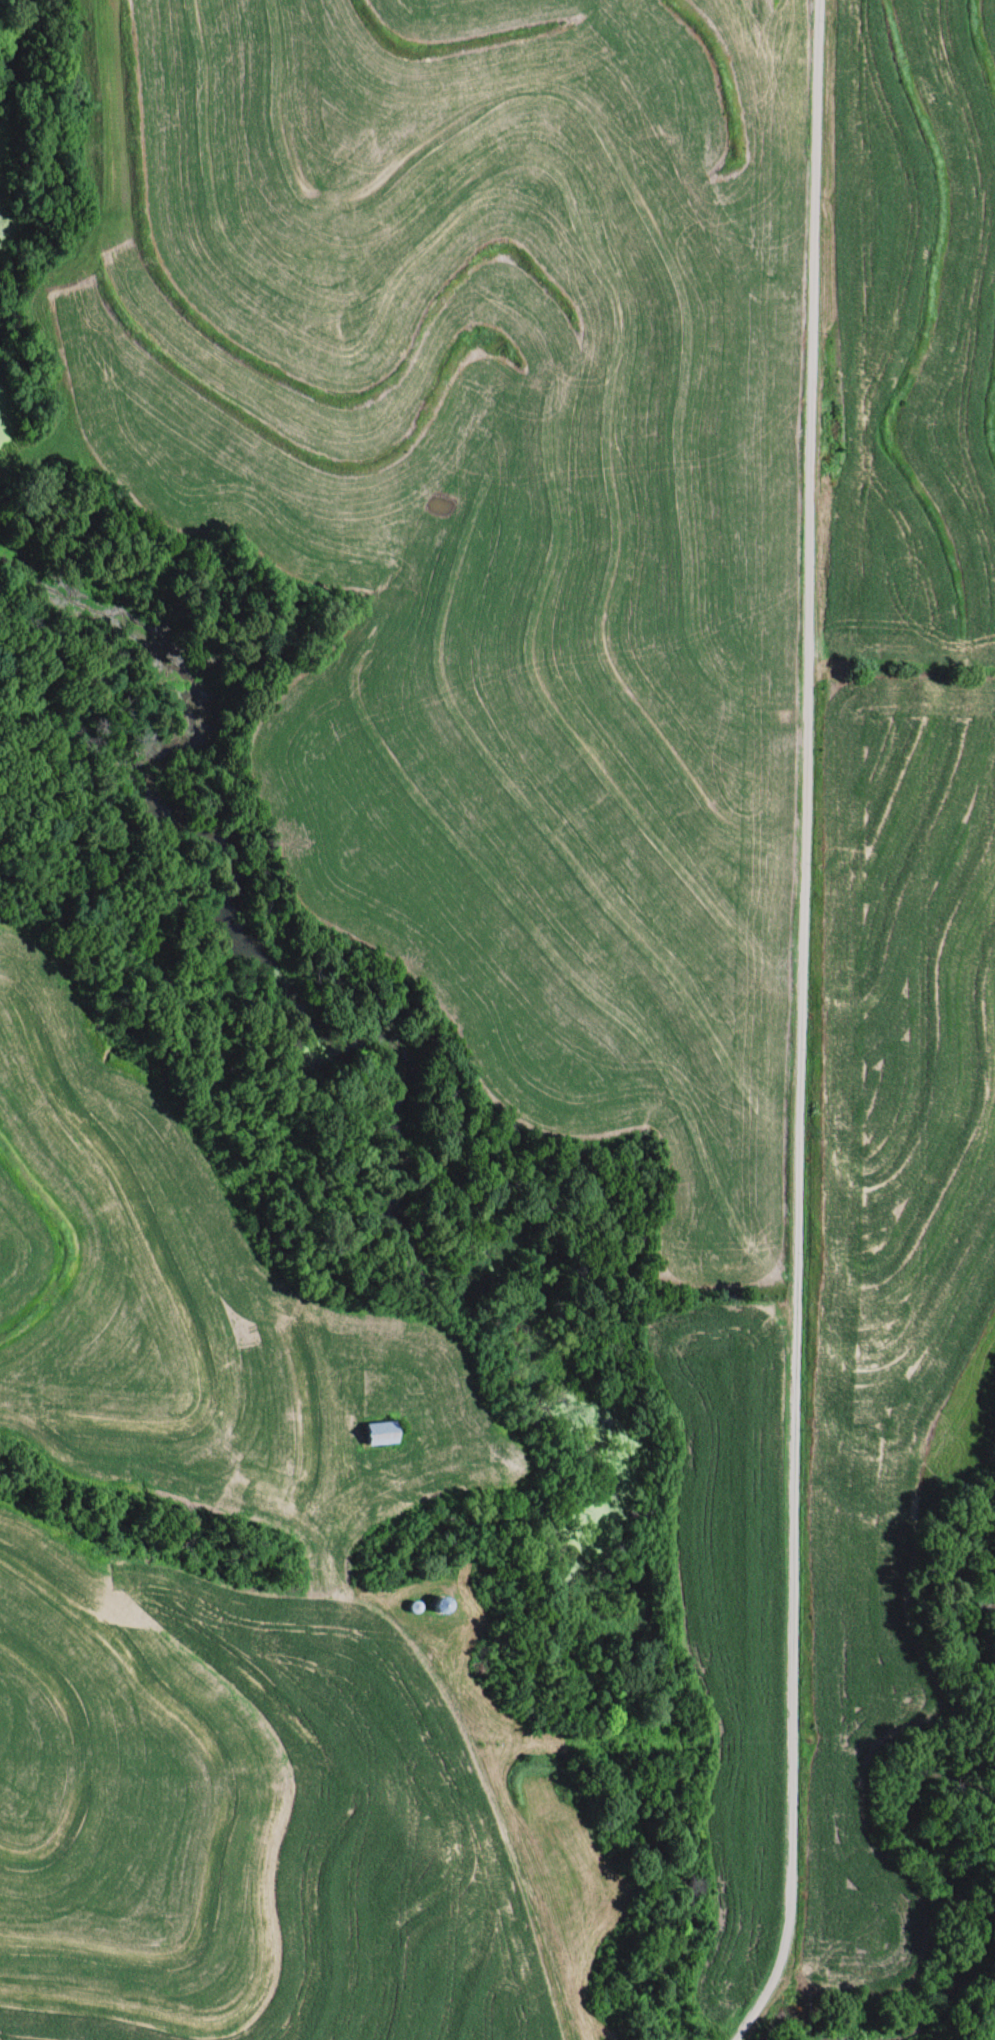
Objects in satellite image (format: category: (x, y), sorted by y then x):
road: (802, 1028)
building: (376, 1430)
building: (435, 1602)
building: (428, 1779)

